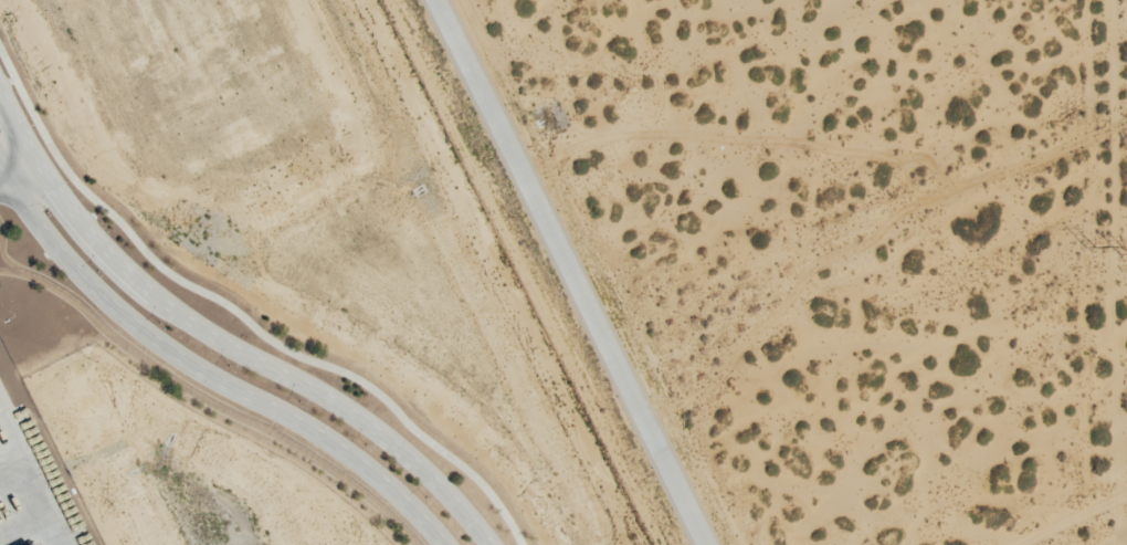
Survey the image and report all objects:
road: (18, 167)
road: (565, 272)
road: (223, 339)
road: (204, 377)

